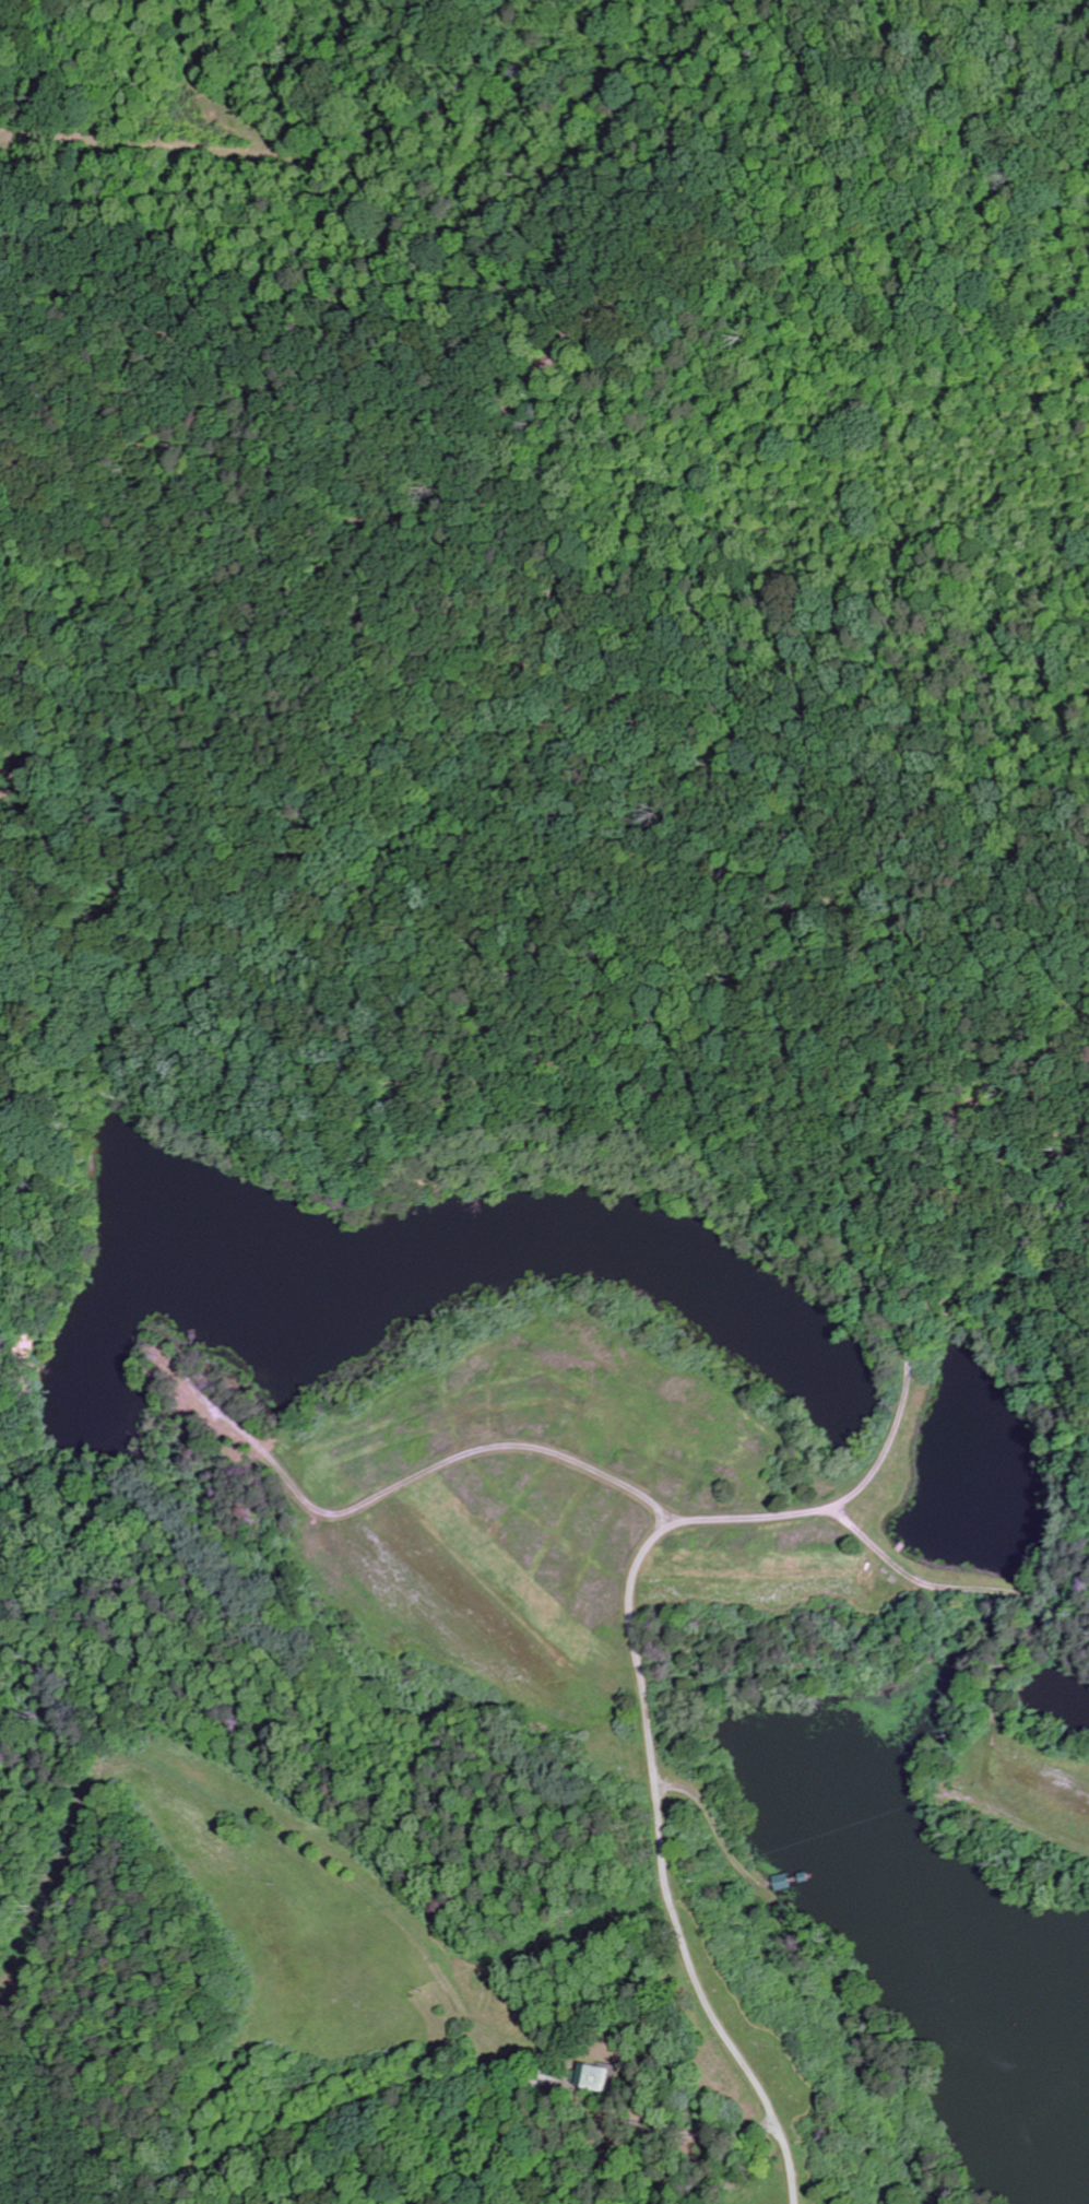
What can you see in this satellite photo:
road: (885, 959)
road: (434, 1454)
road: (713, 1830)
road: (667, 1869)
building: (595, 2081)
road: (665, 2132)

